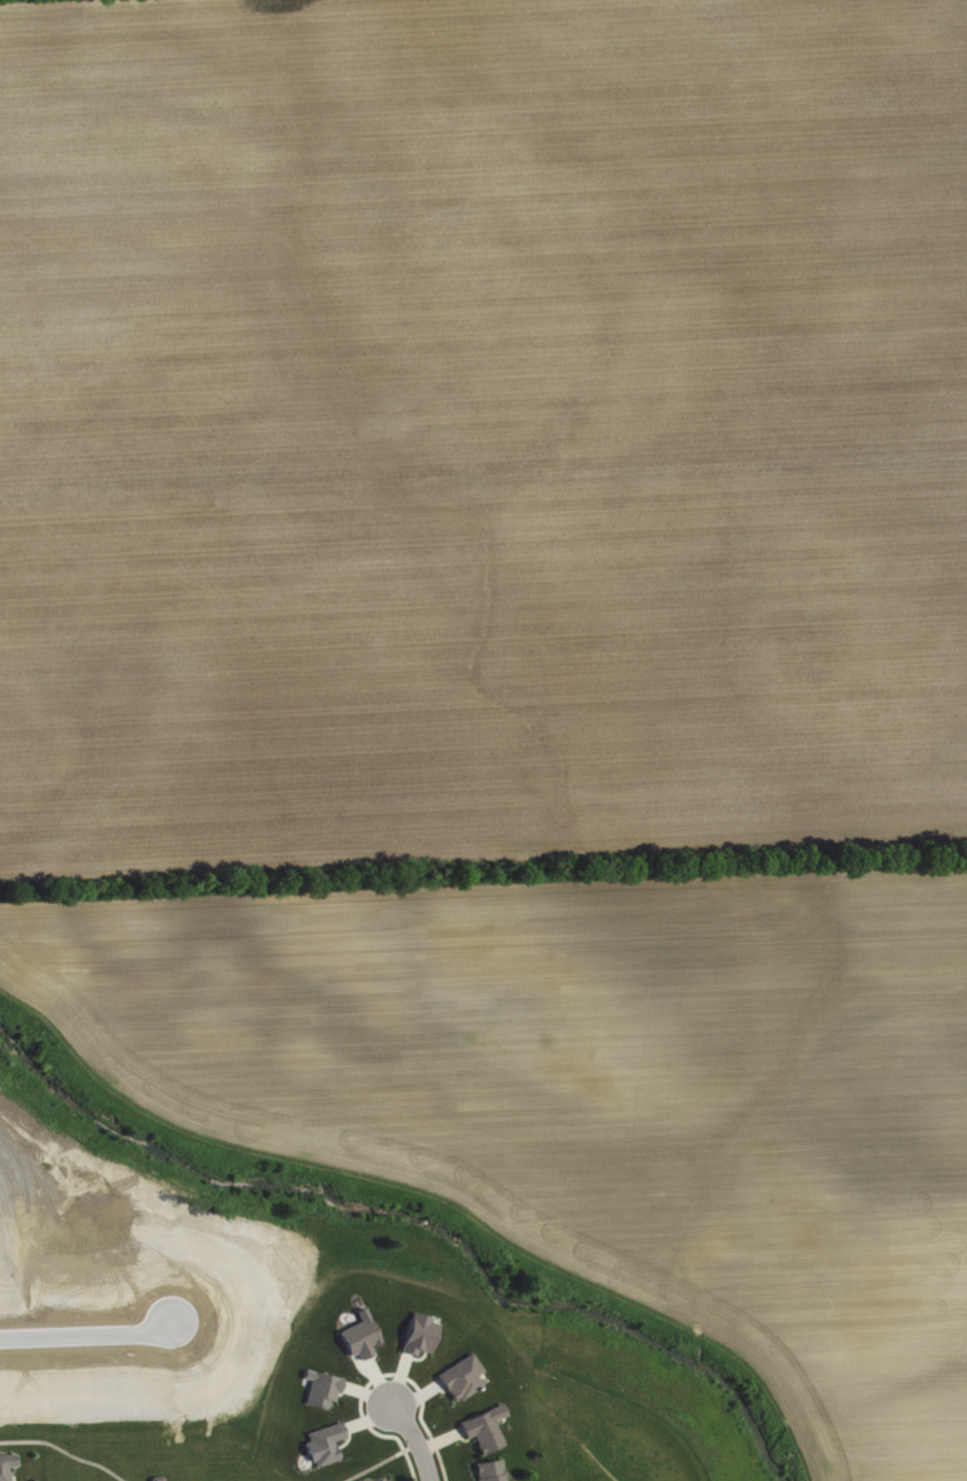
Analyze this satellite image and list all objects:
road: (86, 1333)
building: (422, 1342)
building: (362, 1343)
building: (464, 1384)
building: (324, 1396)
building: (487, 1436)
road: (416, 1441)
building: (327, 1451)
building: (8, 1470)
building: (492, 1474)

